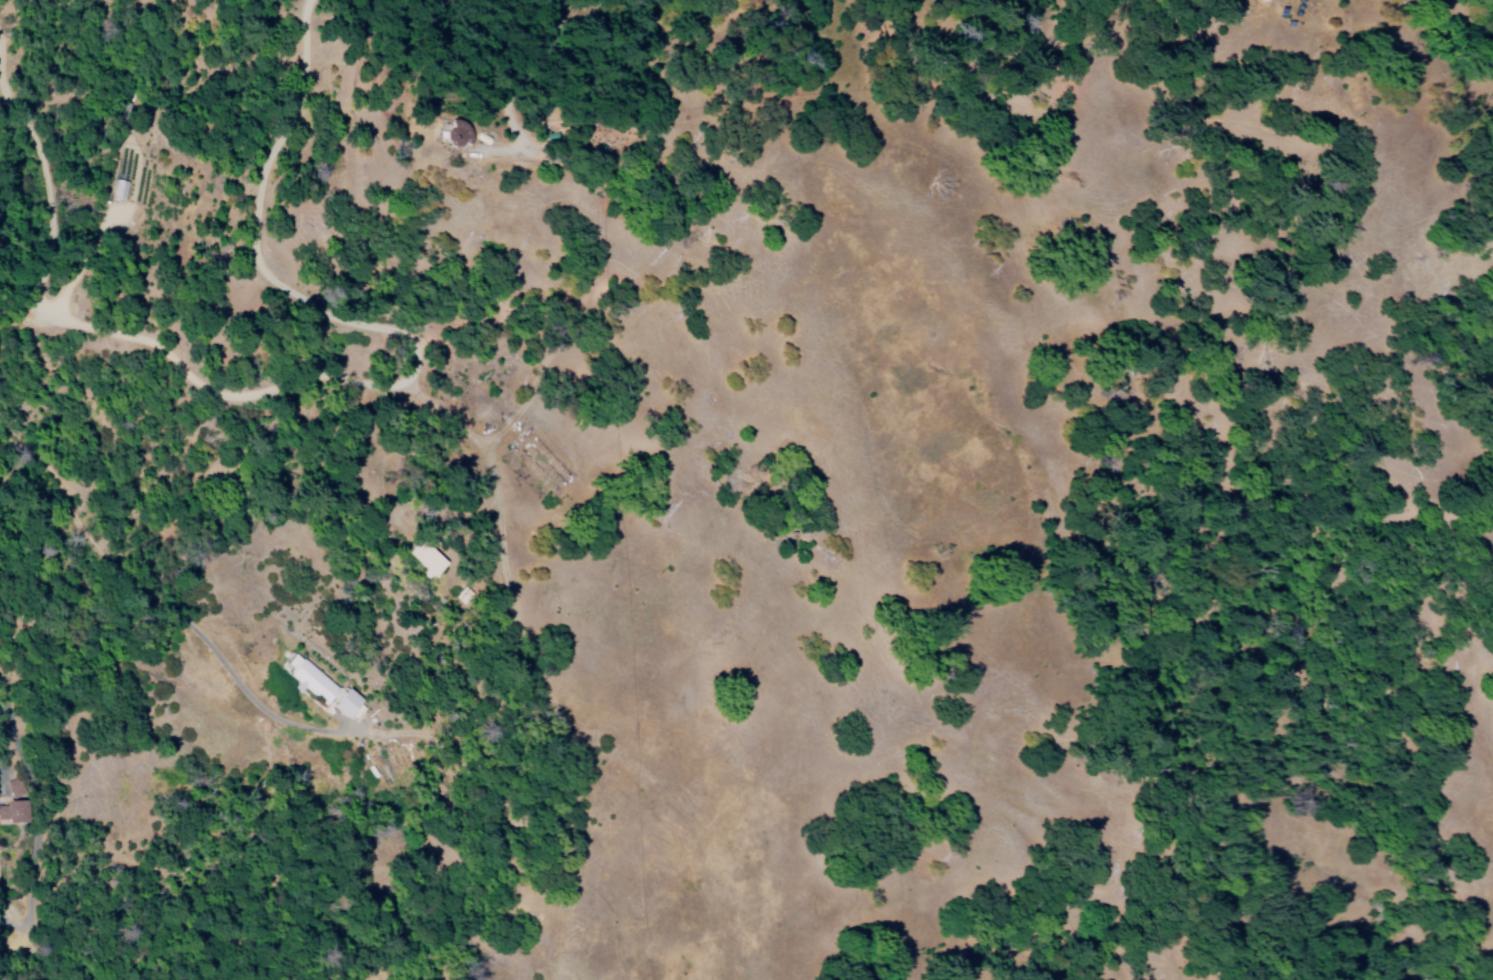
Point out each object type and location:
road: (1036, 36)
building: (458, 132)
building: (121, 179)
building: (311, 680)
building: (346, 703)
building: (391, 765)
building: (10, 812)

